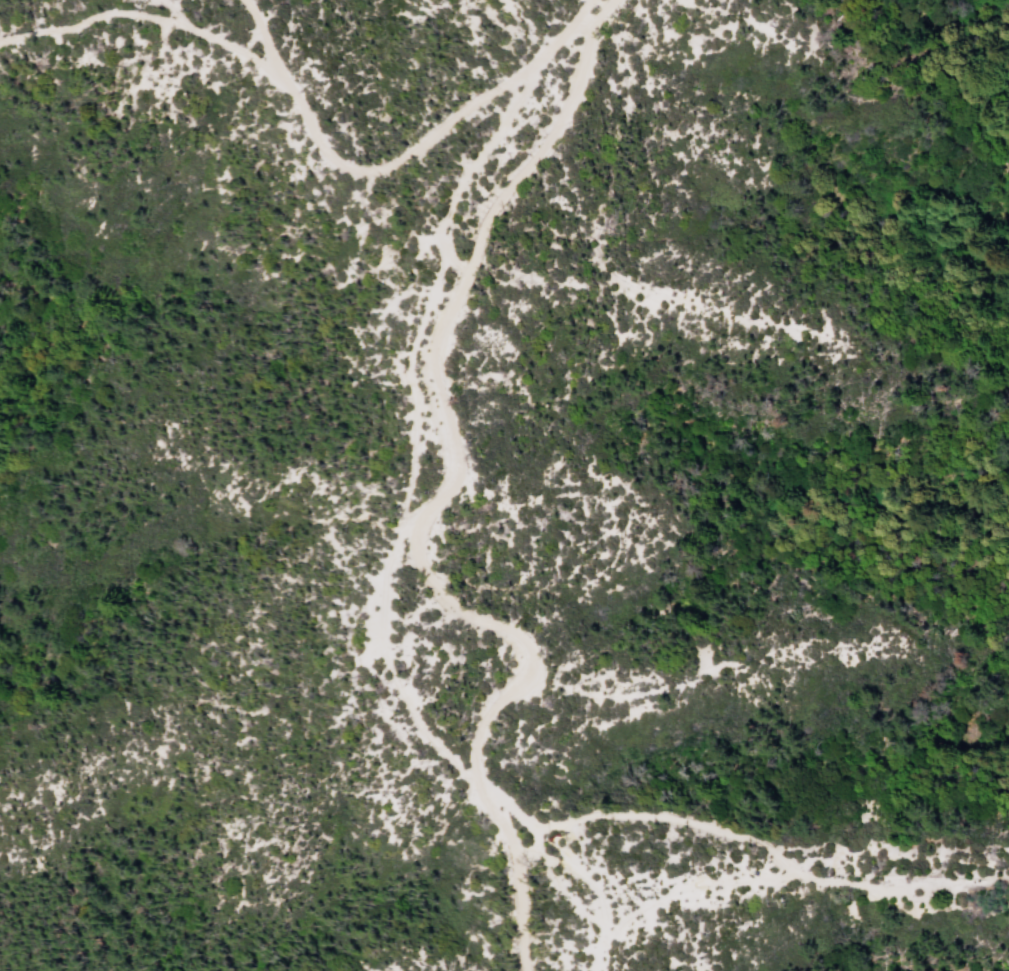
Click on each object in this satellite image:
road: (148, 14)
road: (578, 17)
road: (467, 163)
road: (385, 167)
road: (411, 401)
road: (444, 496)
road: (376, 653)
road: (664, 689)
road: (739, 836)
road: (577, 877)
road: (783, 879)

